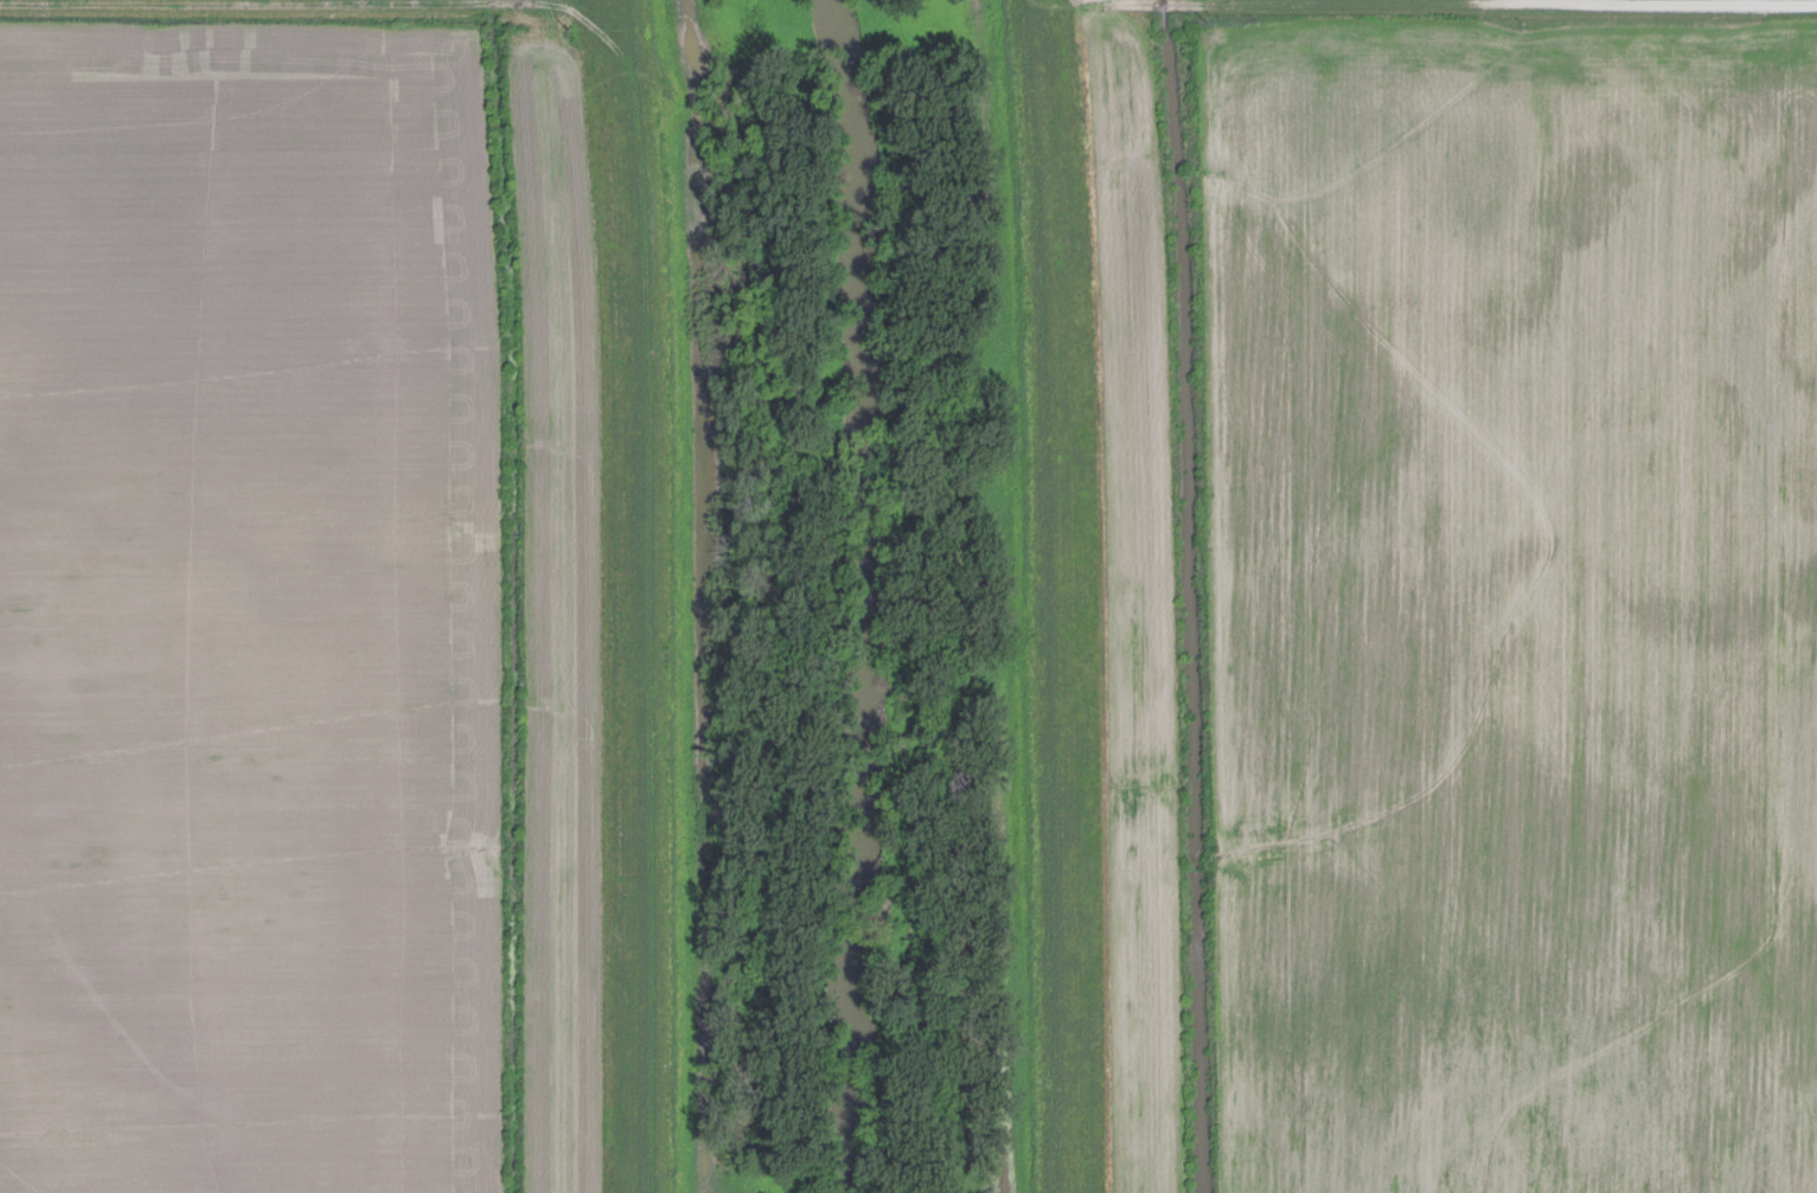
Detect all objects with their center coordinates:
road: (243, 0)
road: (1649, 11)

